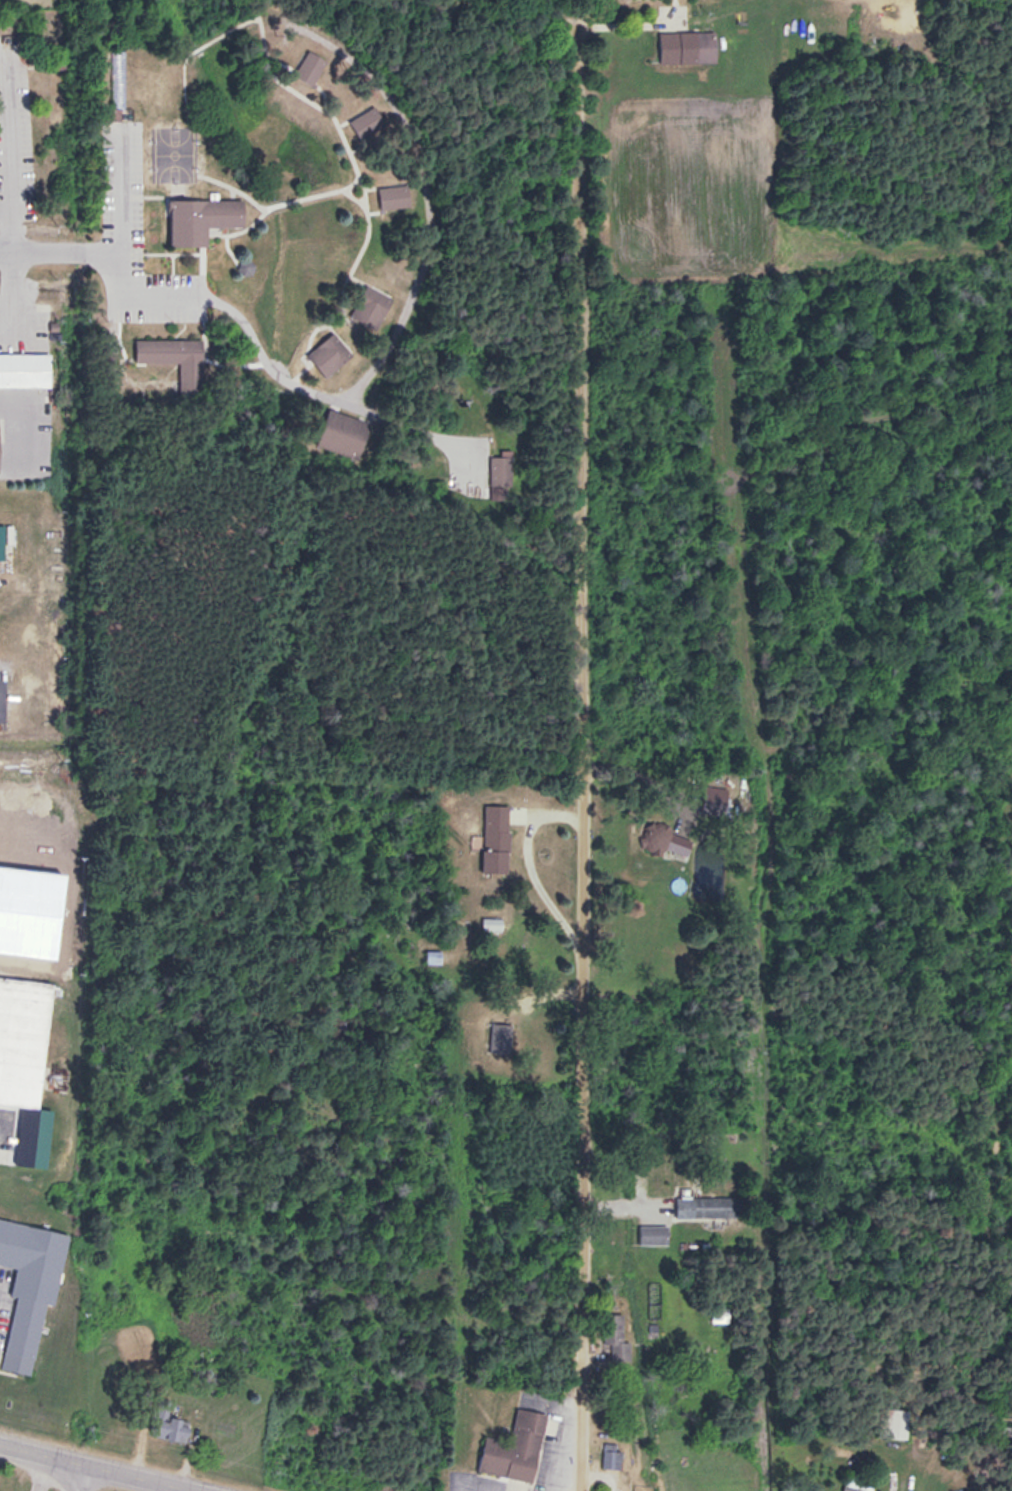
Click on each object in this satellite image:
road: (589, 24)
building: (688, 43)
building: (311, 66)
building: (111, 76)
building: (393, 197)
building: (203, 217)
road: (28, 254)
building: (371, 305)
building: (331, 352)
building: (173, 353)
building: (25, 368)
building: (341, 431)
building: (0, 441)
building: (500, 468)
road: (586, 795)
building: (715, 799)
building: (656, 834)
building: (496, 837)
building: (493, 921)
building: (501, 1035)
building: (24, 1069)
building: (708, 1205)
building: (654, 1233)
building: (31, 1284)
building: (719, 1313)
building: (616, 1335)
building: (895, 1423)
building: (171, 1426)
building: (516, 1446)
road: (40, 1461)
road: (80, 1481)
road: (121, 1481)
building: (858, 1482)

